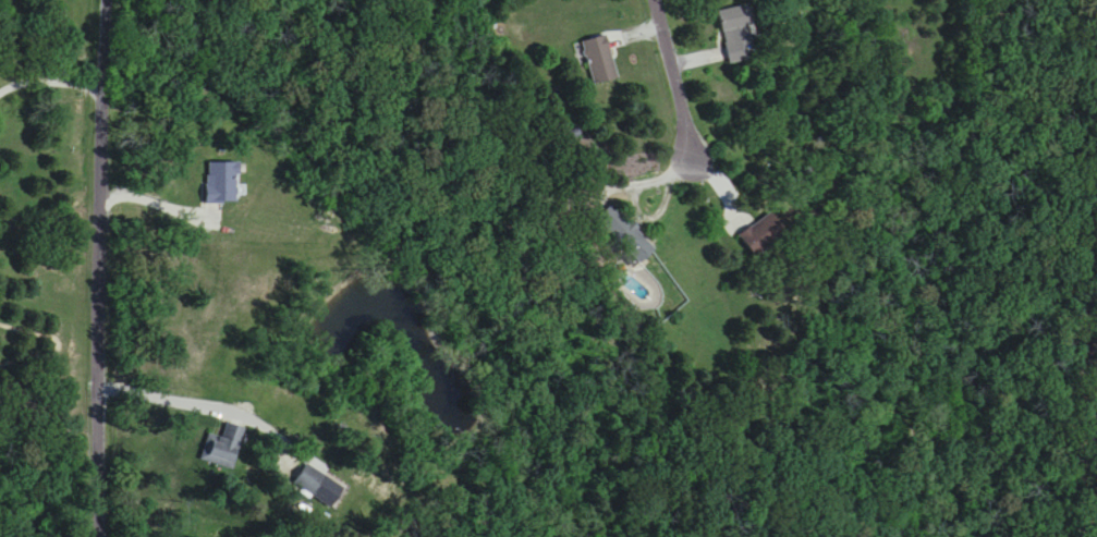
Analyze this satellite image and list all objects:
building: (738, 32)
building: (601, 60)
road: (678, 78)
road: (50, 83)
building: (222, 183)
road: (155, 188)
building: (627, 233)
building: (764, 236)
road: (100, 268)
road: (56, 345)
road: (167, 398)
building: (223, 448)
building: (312, 480)

